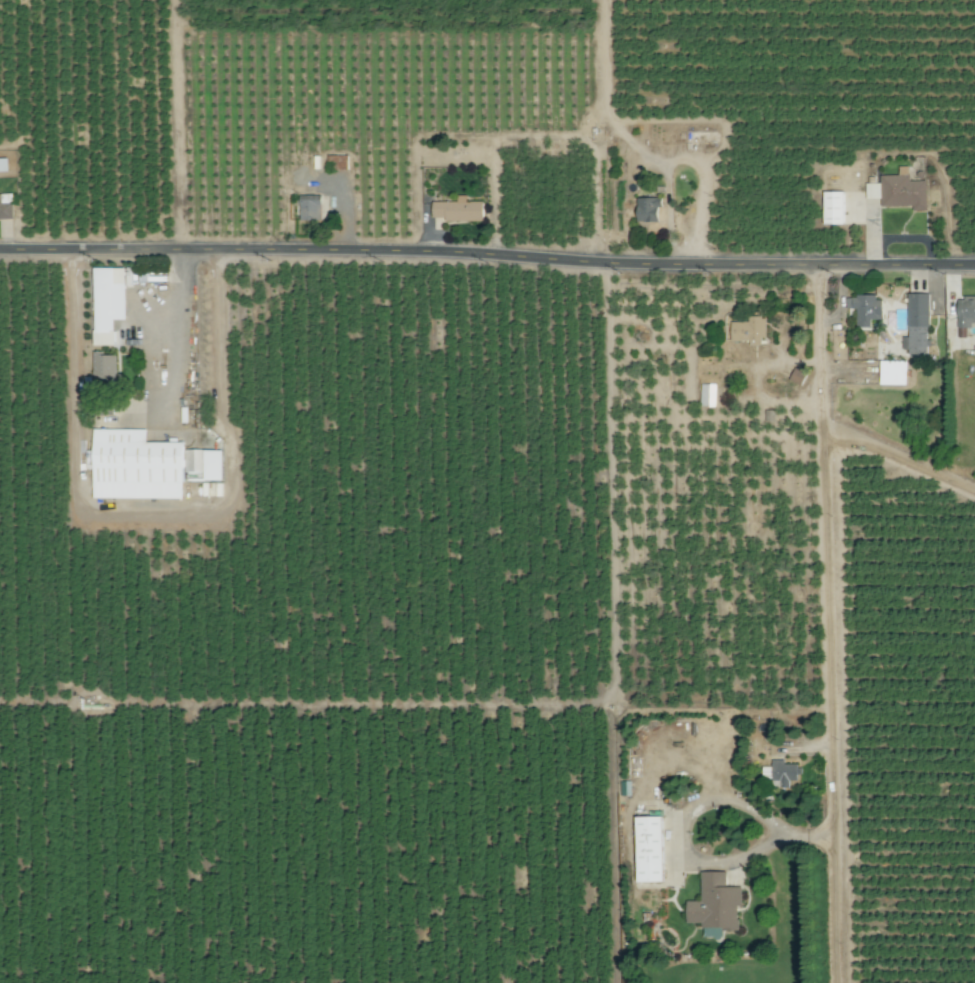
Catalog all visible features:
building: (899, 192)
building: (5, 208)
building: (833, 209)
building: (310, 211)
building: (457, 212)
building: (648, 212)
road: (487, 255)
building: (102, 301)
building: (866, 310)
building: (966, 313)
building: (917, 325)
road: (177, 329)
building: (746, 331)
building: (892, 374)
building: (798, 378)
building: (707, 397)
building: (148, 461)
road: (153, 512)
road: (829, 623)
road: (300, 705)
building: (782, 775)
road: (778, 835)
building: (649, 851)
building: (716, 900)

